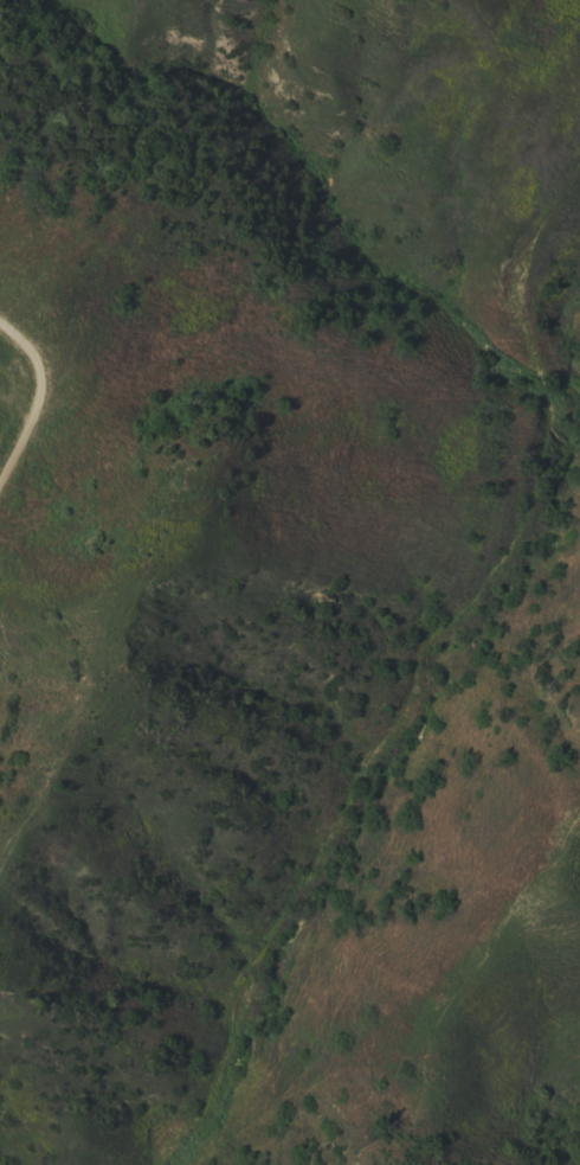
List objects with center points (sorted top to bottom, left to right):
road: (27, 399)

